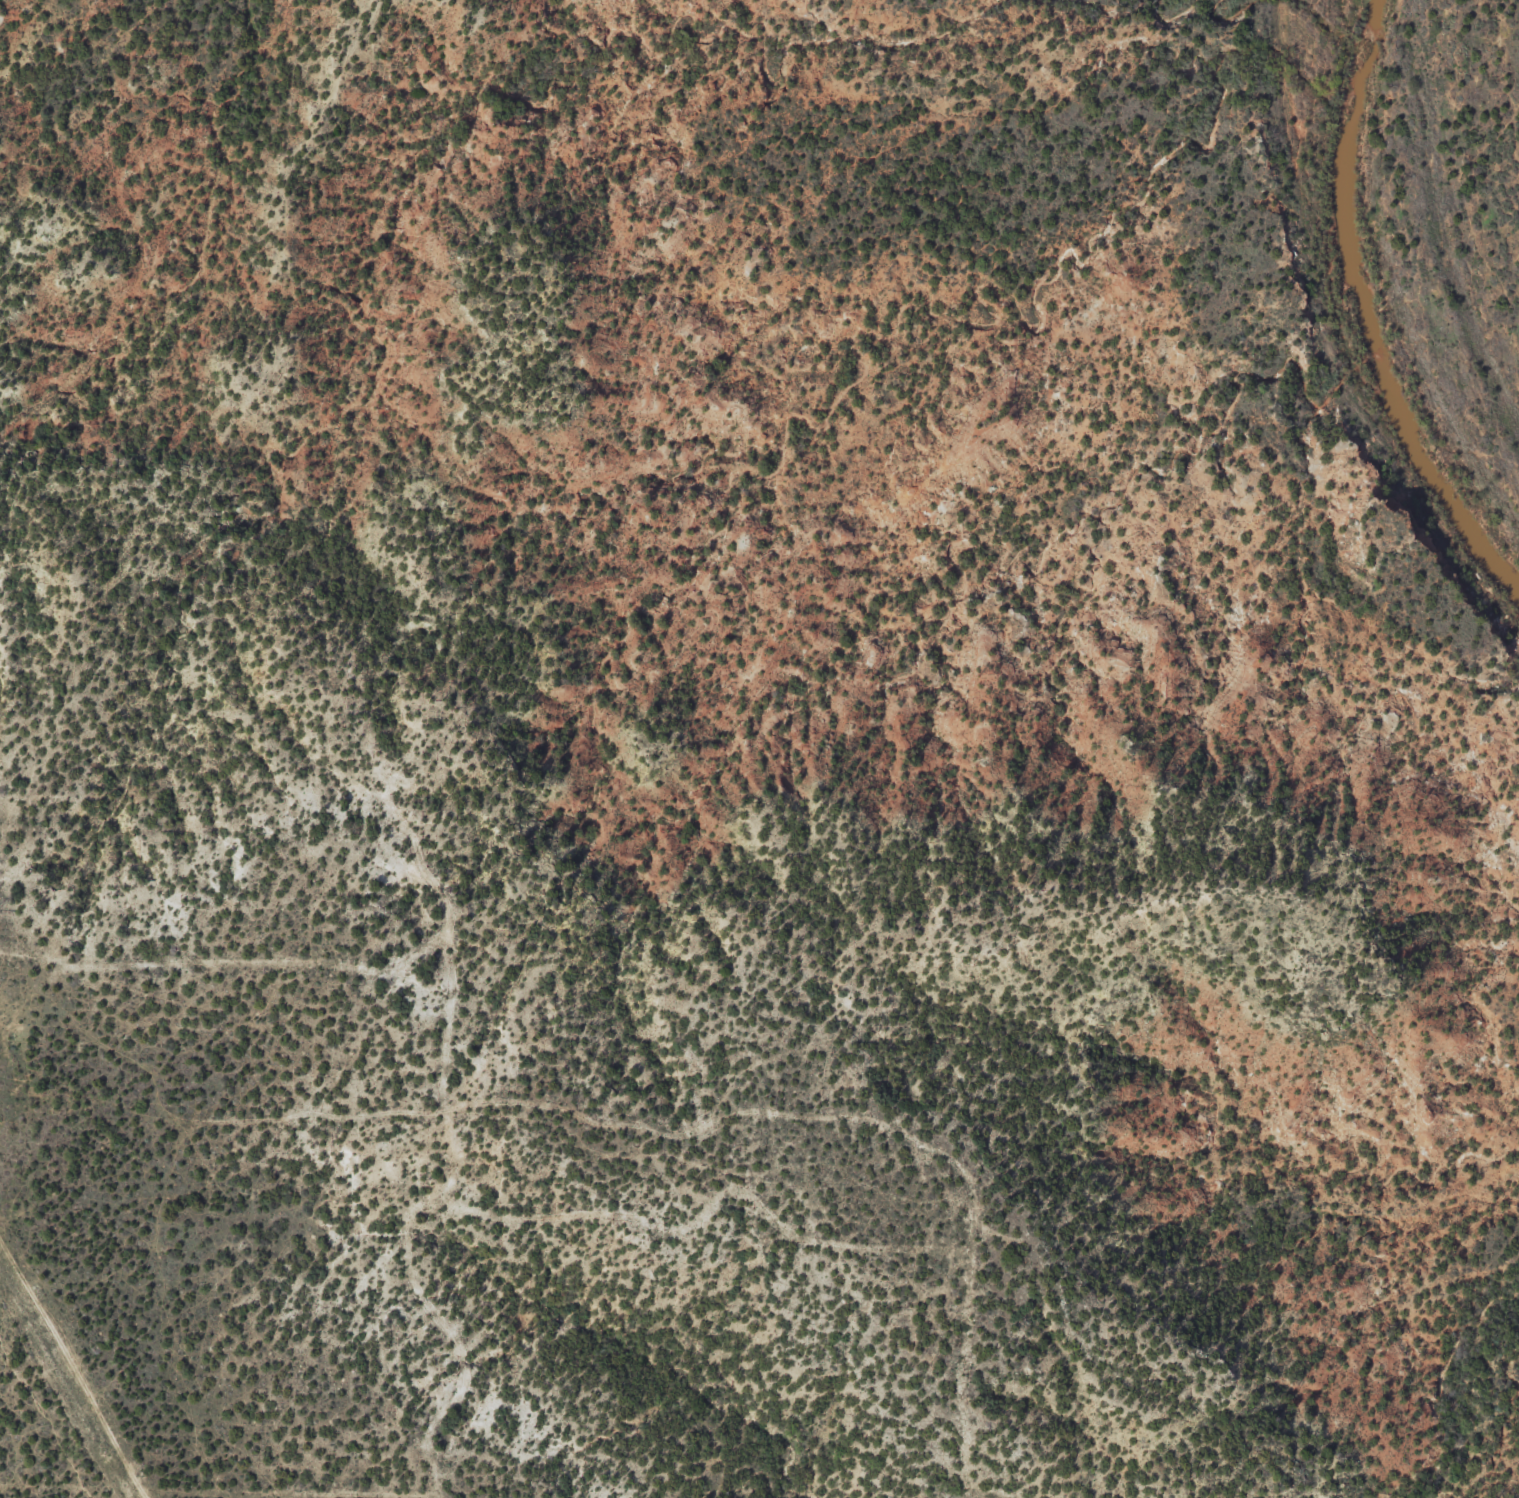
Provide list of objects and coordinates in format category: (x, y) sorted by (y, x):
river: (1363, 315)

